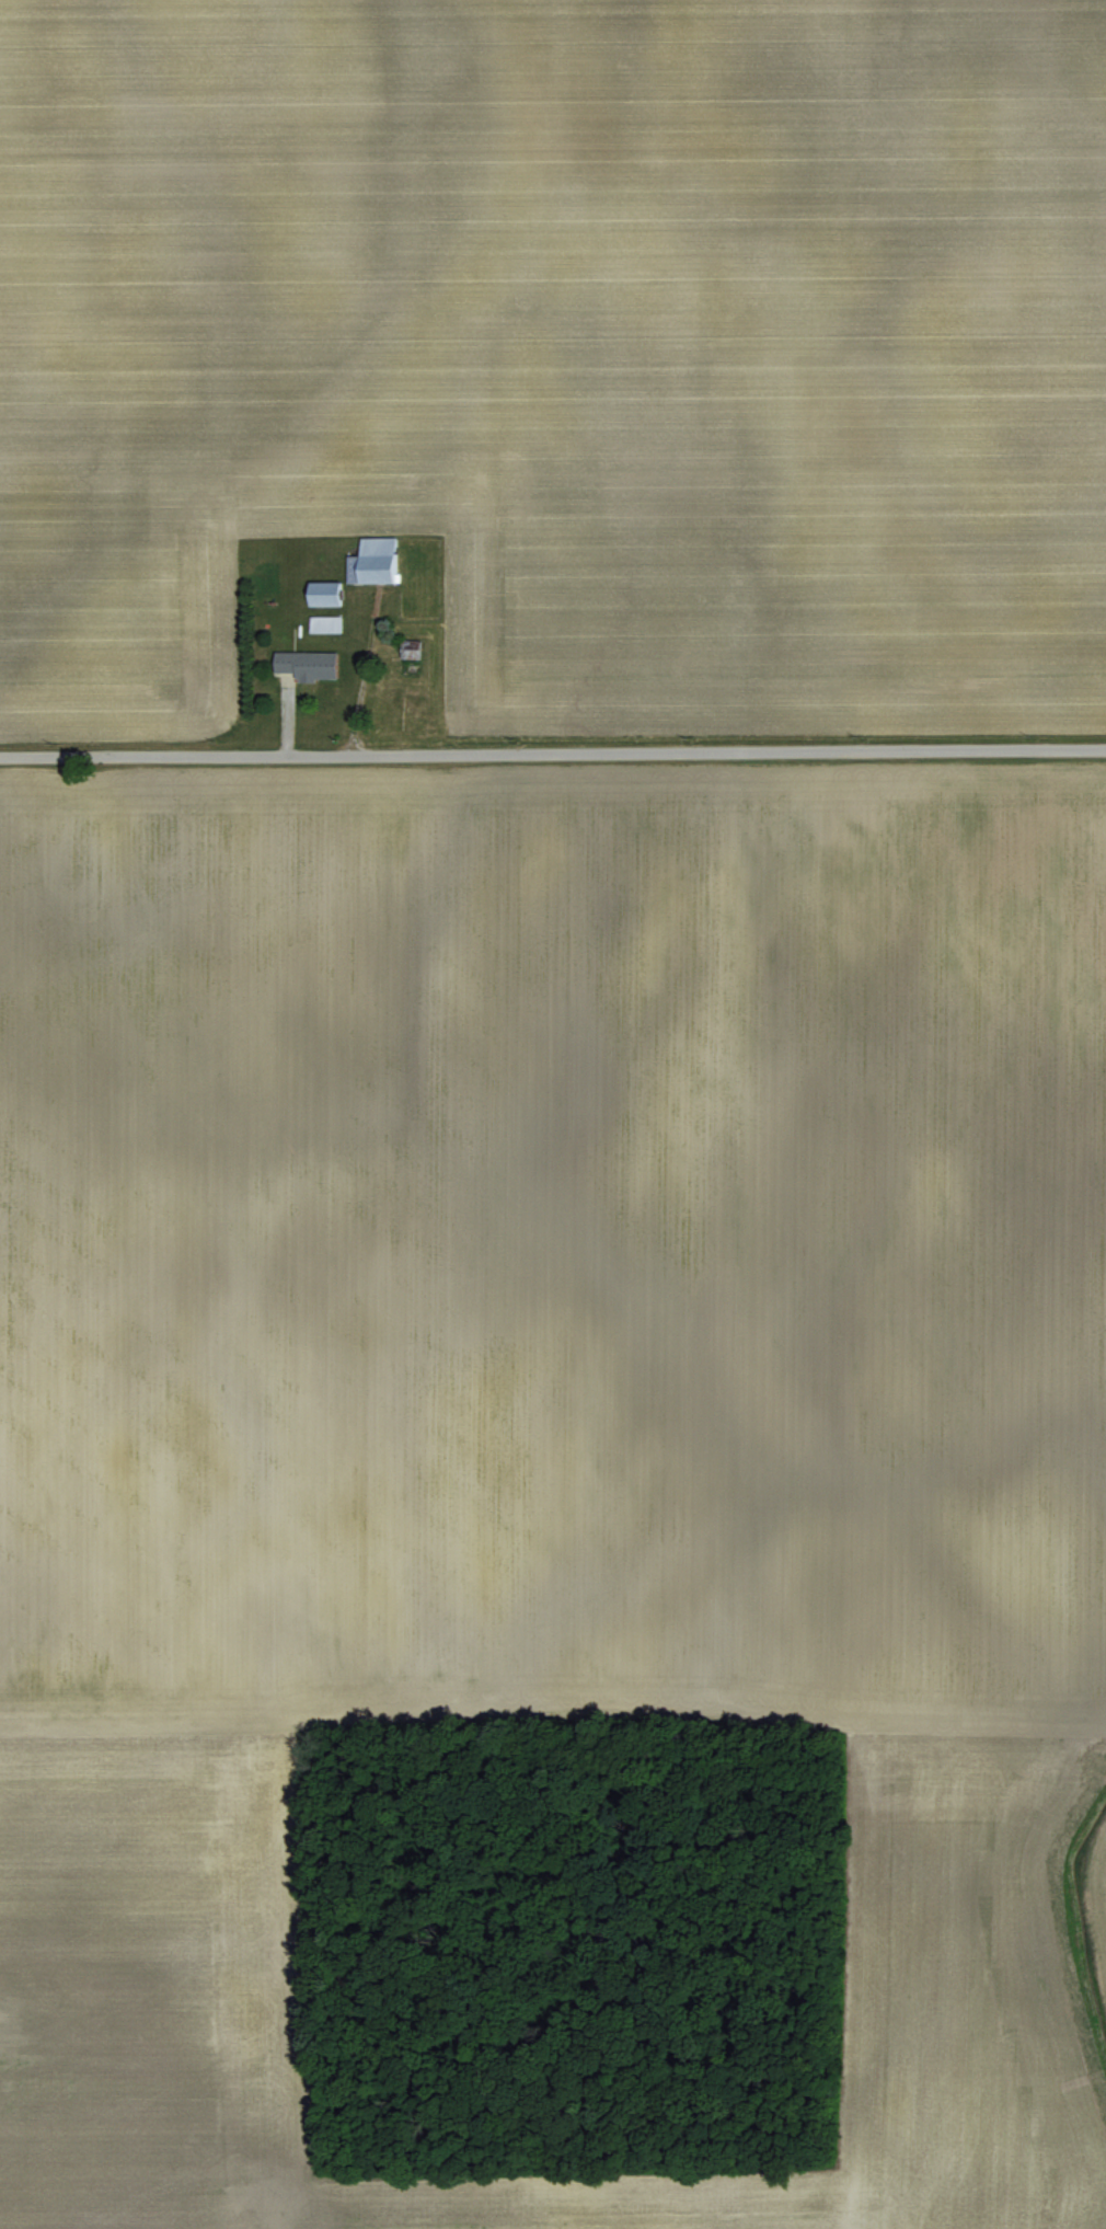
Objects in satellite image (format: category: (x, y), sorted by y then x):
road: (553, 749)

